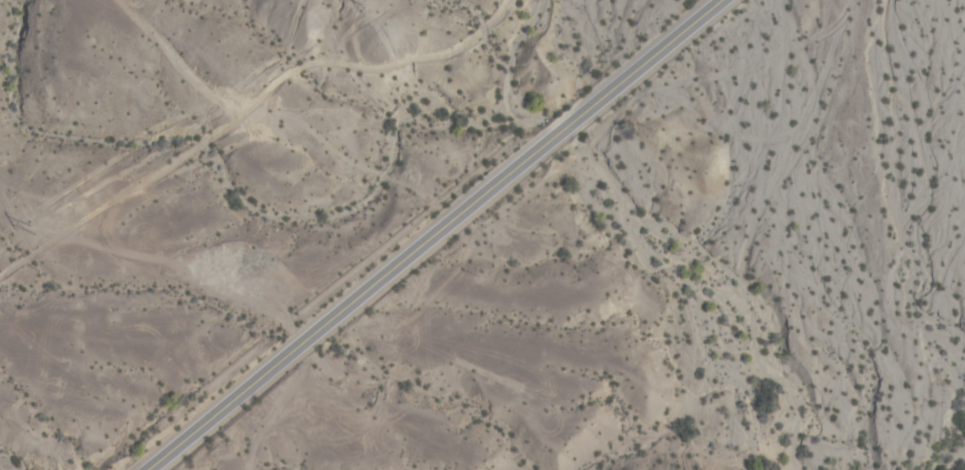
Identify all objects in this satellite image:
power tower: (374, 3)
power tower: (34, 233)
road: (438, 235)

